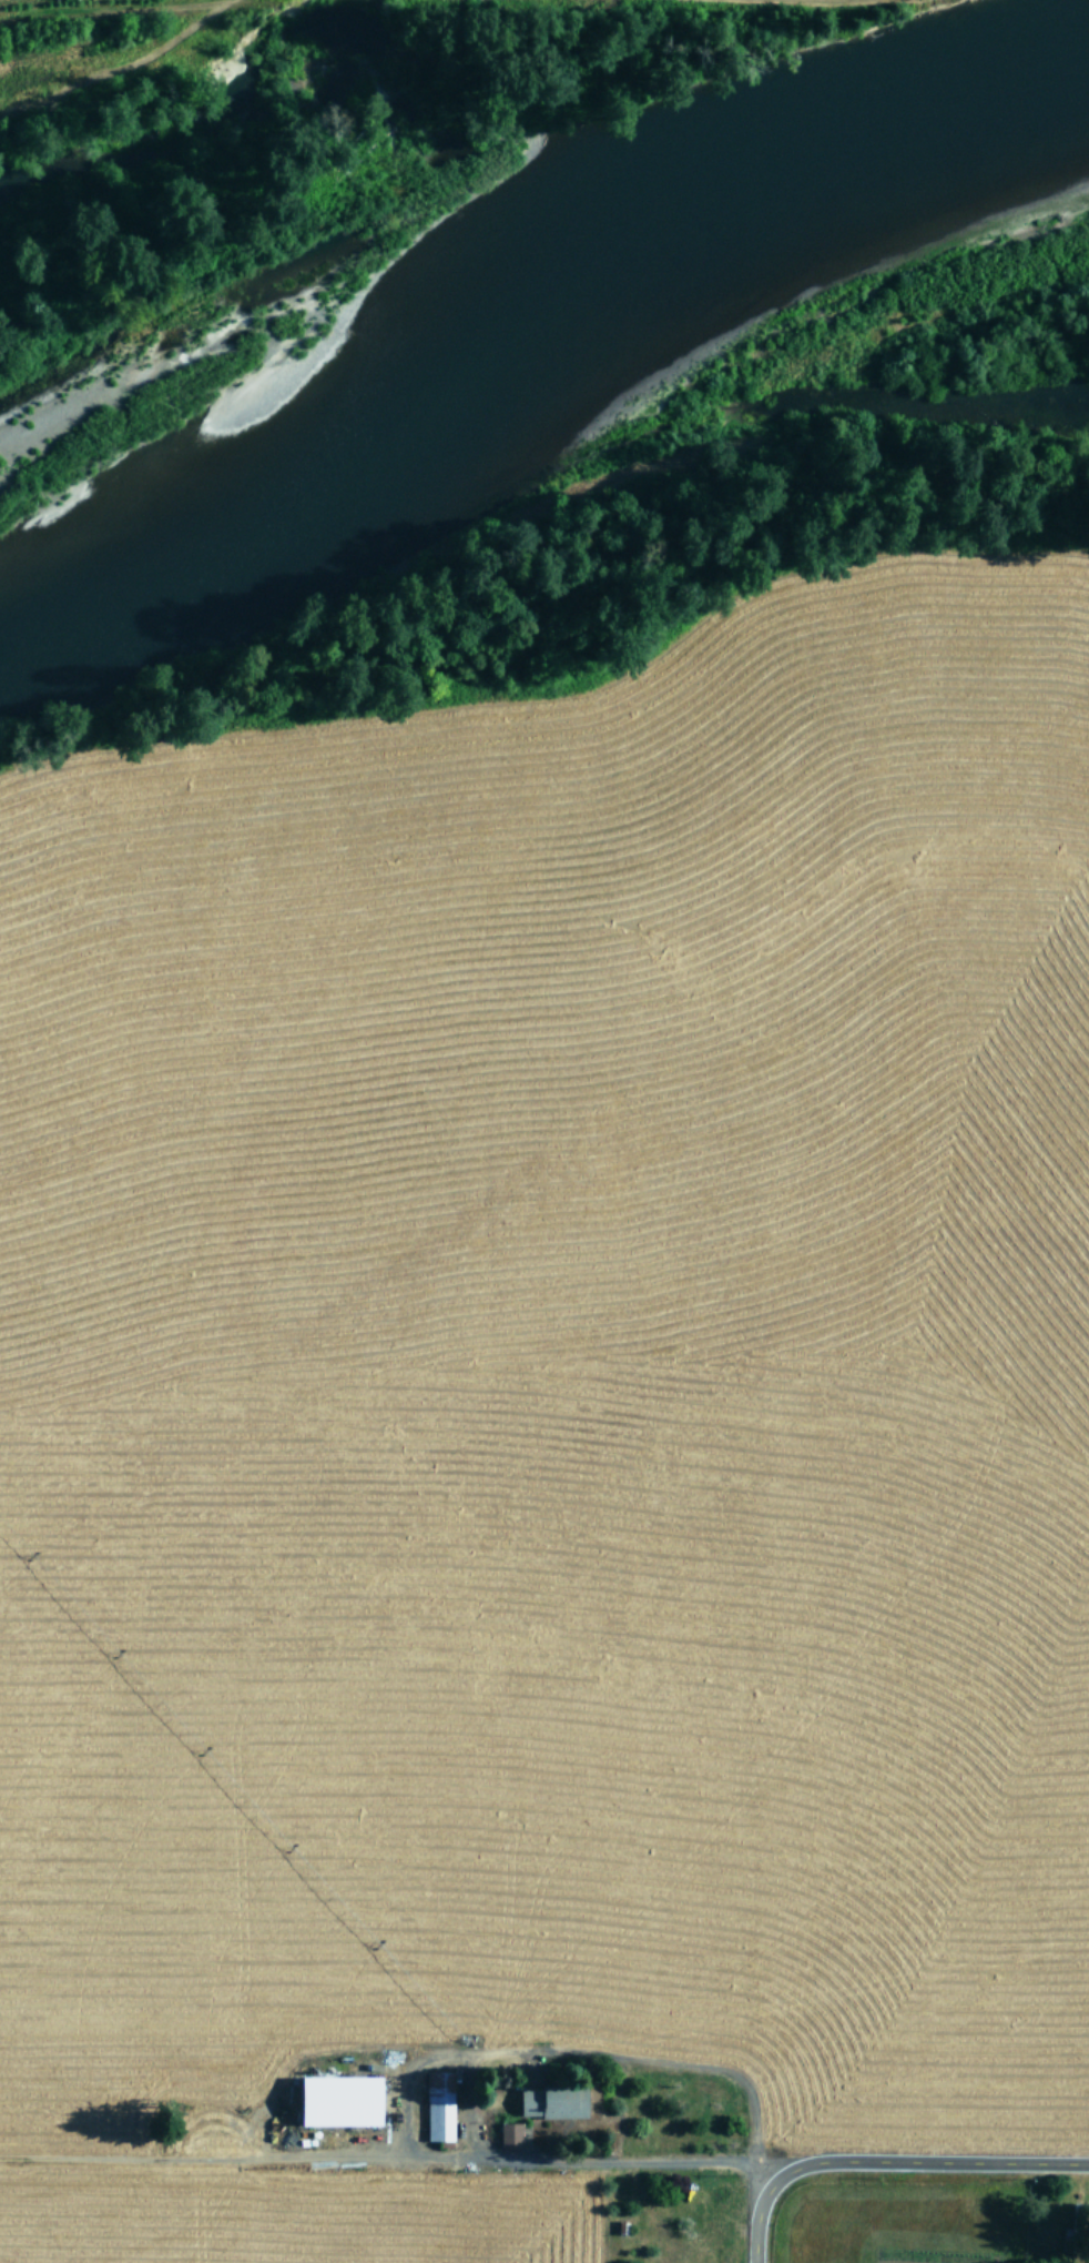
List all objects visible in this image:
road: (12, 1)
crop: (1025, 14)
crop: (102, 42)
river: (542, 365)
crop: (557, 1447)
road: (367, 1566)
road: (769, 1837)
building: (342, 2101)
building: (553, 2102)
building: (439, 2107)
building: (510, 2134)
road: (885, 2160)

